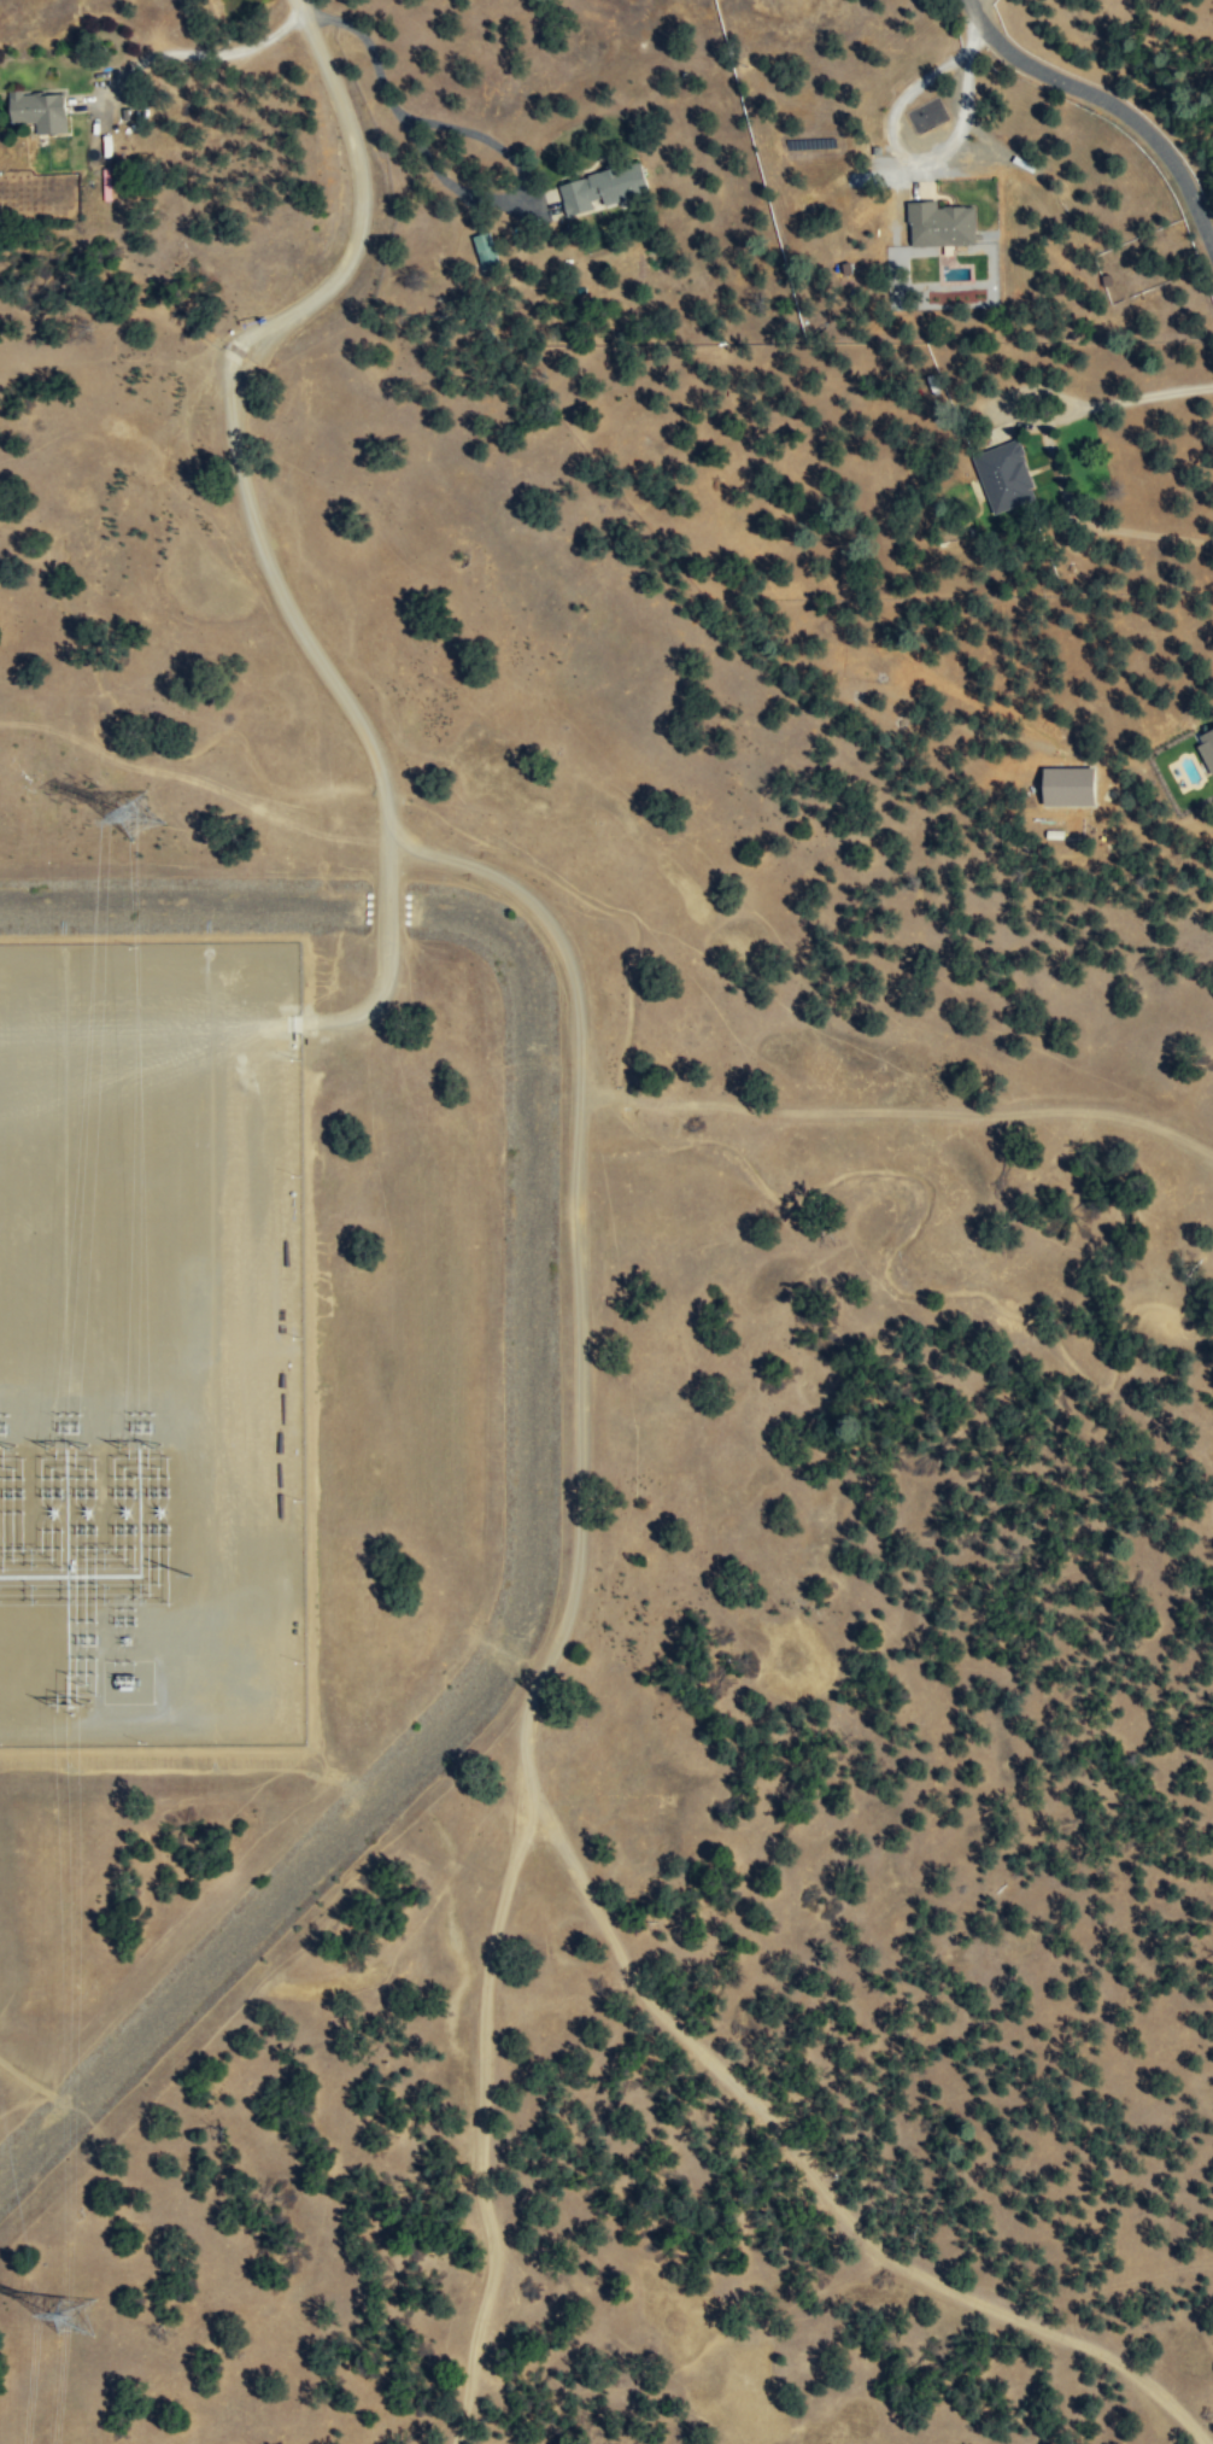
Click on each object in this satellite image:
road: (204, 53)
road: (1111, 100)
building: (35, 109)
road: (482, 136)
road: (363, 180)
building: (598, 187)
building: (937, 223)
building: (482, 249)
road: (1053, 455)
building: (1002, 476)
building: (1205, 747)
building: (1062, 785)
power tower: (157, 820)
power substation: (158, 1351)
road: (484, 2111)
road: (832, 2202)
power tower: (96, 2309)

